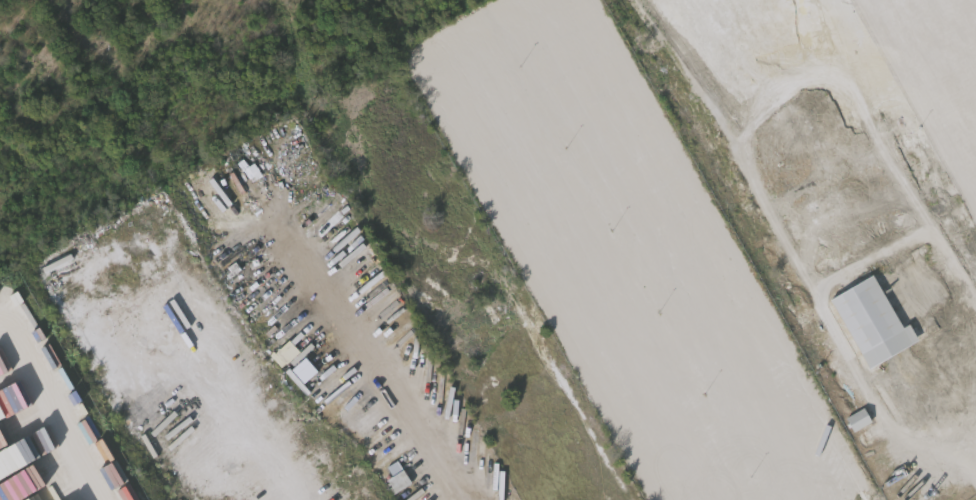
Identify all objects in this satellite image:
building: (874, 323)
road: (372, 366)
road: (48, 412)
building: (852, 417)
road: (944, 419)
building: (860, 420)
road: (972, 453)
building: (392, 475)
building: (889, 480)
road: (273, 489)

